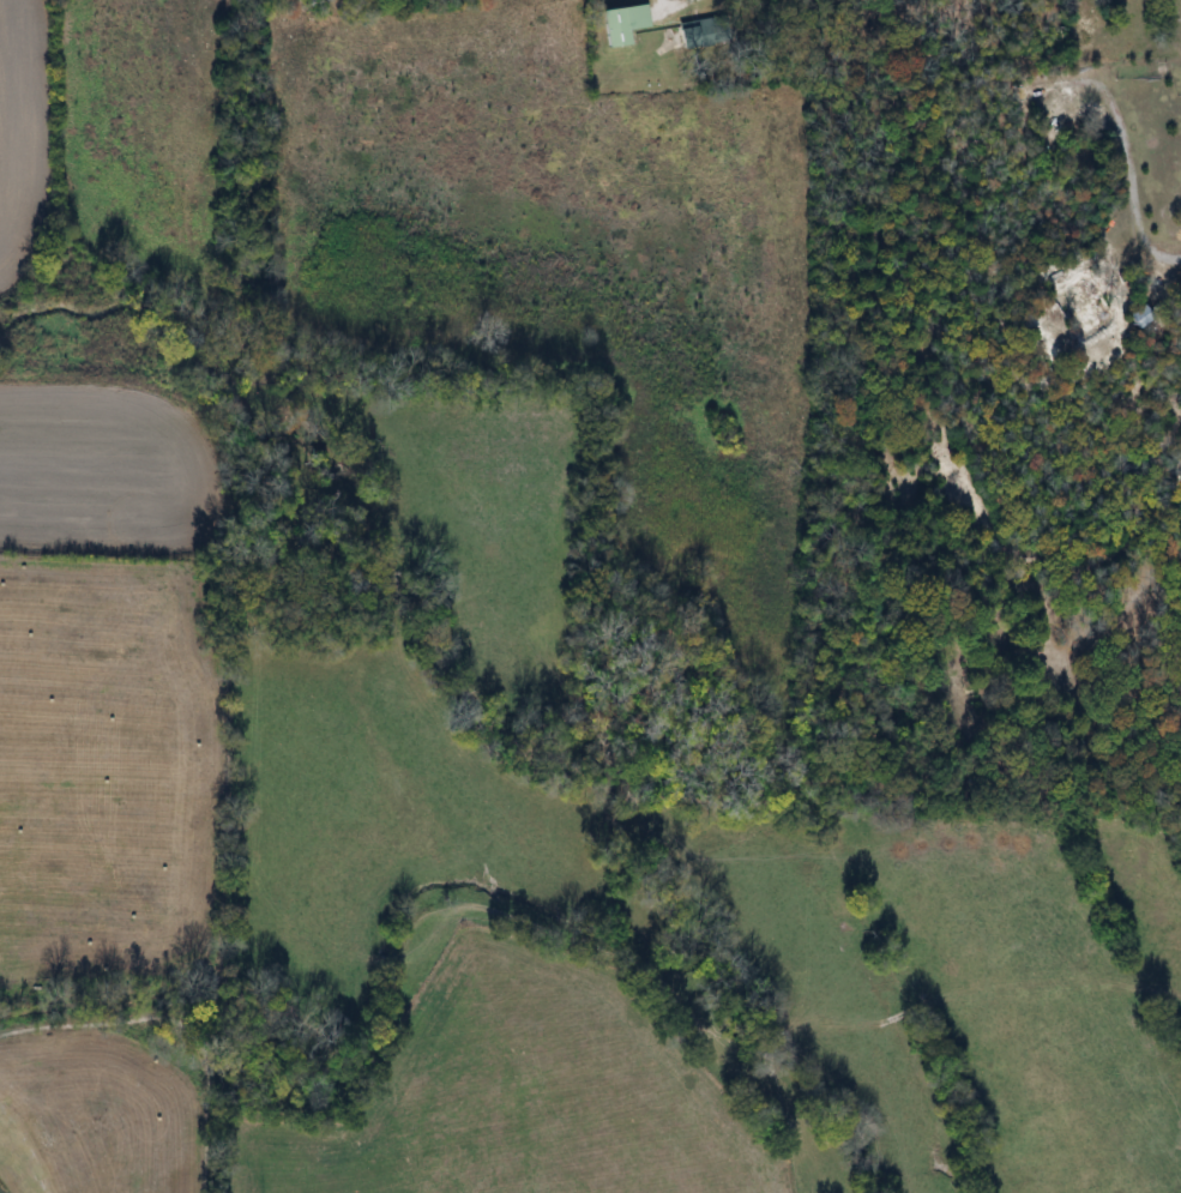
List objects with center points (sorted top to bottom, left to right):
road: (674, 4)
building: (617, 23)
building: (685, 36)
road: (1131, 174)

